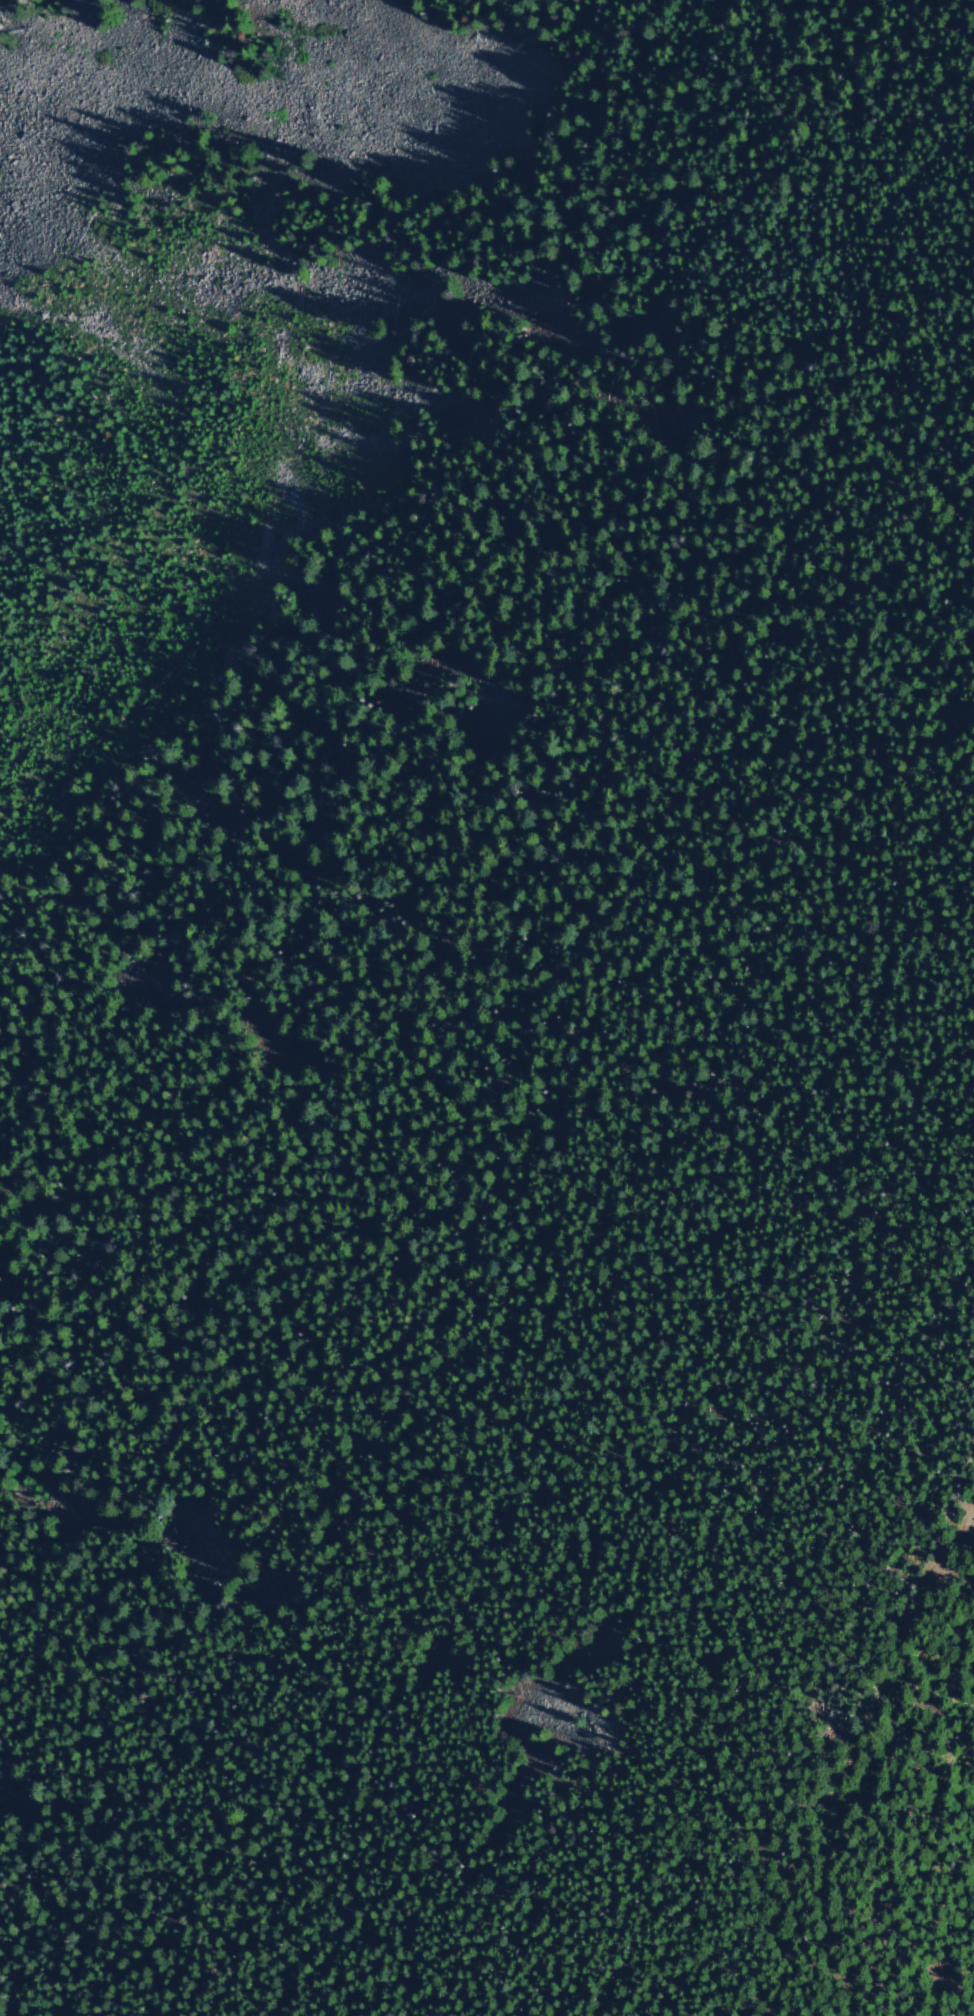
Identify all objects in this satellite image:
road: (803, 1726)

